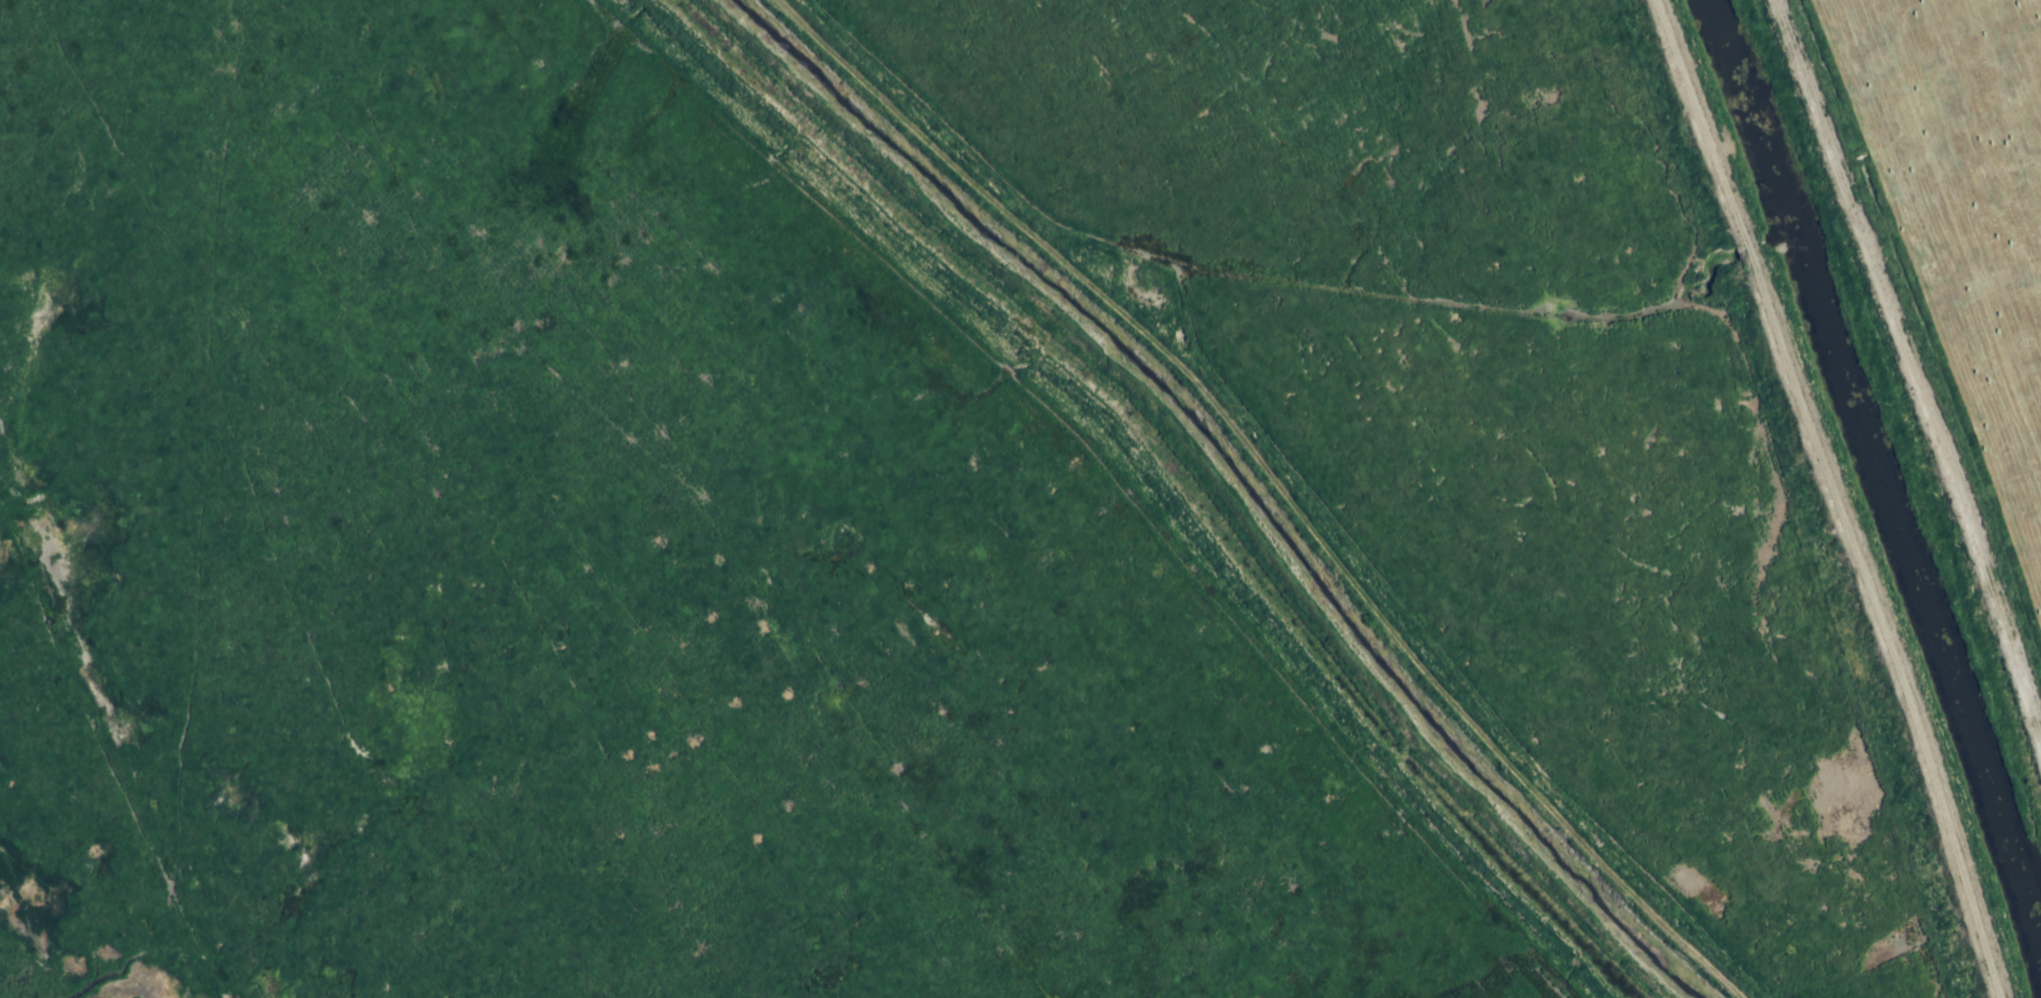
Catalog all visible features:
road: (1843, 489)
river: (1866, 499)

